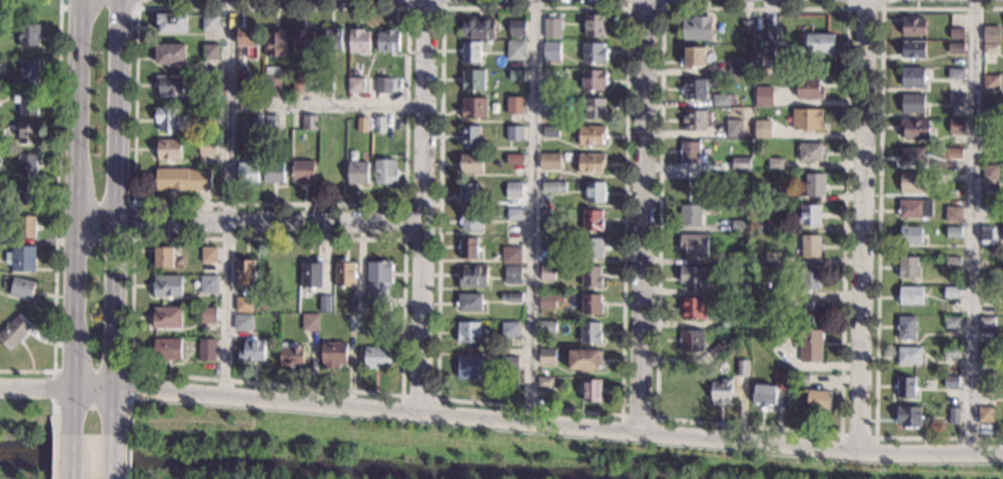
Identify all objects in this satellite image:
road: (101, 8)
road: (425, 8)
road: (643, 8)
road: (864, 10)
road: (626, 18)
building: (170, 24)
building: (210, 24)
building: (594, 25)
building: (912, 27)
building: (478, 28)
building: (516, 28)
building: (696, 28)
building: (551, 29)
building: (746, 30)
building: (957, 34)
building: (991, 35)
building: (29, 37)
building: (769, 39)
building: (331, 41)
building: (248, 42)
building: (359, 42)
building: (388, 42)
building: (303, 43)
building: (275, 44)
building: (819, 44)
building: (955, 48)
building: (912, 50)
building: (990, 50)
building: (515, 51)
building: (470, 52)
building: (550, 52)
building: (210, 53)
building: (593, 53)
building: (170, 55)
building: (693, 57)
building: (737, 69)
building: (955, 74)
building: (30, 75)
building: (516, 75)
building: (911, 78)
building: (271, 80)
building: (472, 81)
building: (593, 81)
building: (990, 84)
building: (301, 85)
building: (326, 85)
building: (170, 86)
building: (211, 86)
building: (355, 86)
building: (382, 86)
building: (244, 90)
building: (694, 90)
building: (809, 90)
building: (763, 97)
building: (955, 99)
building: (721, 101)
building: (912, 104)
building: (27, 105)
road: (326, 106)
building: (515, 106)
building: (551, 106)
building: (474, 108)
building: (593, 108)
building: (992, 111)
building: (211, 117)
building: (166, 119)
building: (694, 120)
building: (807, 120)
building: (255, 123)
building: (308, 123)
building: (270, 124)
building: (362, 126)
building: (380, 126)
building: (956, 127)
building: (734, 129)
building: (762, 129)
building: (914, 129)
building: (550, 133)
building: (515, 134)
building: (29, 136)
building: (590, 136)
building: (471, 138)
building: (207, 148)
building: (168, 150)
building: (689, 153)
building: (810, 153)
building: (911, 156)
building: (952, 157)
building: (514, 160)
building: (0, 161)
building: (549, 162)
building: (740, 163)
building: (775, 163)
building: (471, 164)
building: (590, 165)
building: (29, 167)
building: (273, 172)
building: (302, 172)
building: (357, 173)
building: (384, 173)
building: (991, 173)
building: (247, 174)
building: (181, 180)
building: (911, 183)
building: (695, 185)
building: (814, 185)
building: (553, 188)
building: (514, 191)
building: (468, 193)
building: (594, 193)
building: (774, 193)
building: (953, 194)
building: (28, 197)
building: (737, 197)
road: (229, 199)
building: (990, 201)
road: (110, 203)
road: (405, 204)
road: (421, 205)
building: (914, 210)
road: (55, 211)
road: (531, 211)
building: (514, 215)
building: (547, 215)
building: (953, 215)
building: (810, 216)
road: (77, 217)
road: (119, 217)
road: (646, 217)
building: (690, 217)
road: (249, 219)
building: (470, 220)
building: (591, 220)
road: (404, 223)
road: (864, 225)
building: (739, 226)
road: (971, 226)
building: (762, 227)
road: (878, 227)
building: (25, 228)
building: (953, 233)
building: (988, 235)
building: (910, 236)
building: (546, 244)
building: (693, 246)
building: (810, 247)
building: (467, 248)
building: (591, 249)
building: (511, 255)
building: (209, 256)
building: (164, 258)
building: (738, 258)
building: (771, 258)
building: (23, 261)
building: (953, 262)
building: (987, 266)
building: (908, 268)
building: (244, 273)
building: (344, 274)
building: (547, 274)
building: (311, 275)
building: (512, 275)
building: (473, 276)
building: (591, 277)
building: (692, 277)
building: (810, 278)
building: (985, 281)
building: (378, 284)
building: (167, 286)
building: (209, 286)
building: (737, 289)
building: (23, 290)
building: (784, 291)
building: (952, 292)
building: (909, 295)
building: (511, 298)
building: (550, 301)
building: (469, 303)
building: (324, 304)
building: (244, 305)
building: (357, 305)
building: (769, 305)
building: (591, 306)
building: (692, 309)
building: (813, 313)
building: (208, 316)
building: (167, 318)
building: (730, 321)
building: (243, 322)
building: (353, 322)
building: (952, 322)
building: (986, 322)
building: (310, 323)
building: (546, 327)
building: (906, 329)
building: (510, 330)
building: (468, 333)
building: (589, 333)
building: (15, 335)
building: (382, 336)
building: (691, 341)
building: (770, 342)
building: (810, 346)
building: (167, 350)
building: (207, 351)
building: (251, 351)
building: (718, 351)
building: (951, 353)
building: (291, 355)
building: (333, 355)
building: (987, 355)
building: (908, 356)
building: (547, 357)
building: (376, 358)
building: (584, 359)
building: (509, 363)
building: (469, 368)
building: (742, 368)
road: (140, 373)
building: (801, 379)
building: (780, 381)
building: (545, 382)
building: (951, 382)
building: (986, 385)
road: (34, 387)
road: (82, 388)
building: (905, 388)
road: (104, 390)
building: (592, 391)
building: (721, 392)
road: (419, 396)
building: (764, 397)
road: (124, 398)
building: (817, 399)
road: (128, 415)
building: (985, 415)
road: (639, 417)
building: (909, 417)
building: (954, 417)
road: (53, 418)
road: (558, 426)
road: (840, 427)
road: (857, 436)
park: (29, 438)
road: (68, 446)
park: (453, 450)
road: (54, 455)
road: (112, 456)
road: (126, 456)
road: (67, 466)
river: (294, 467)
road: (66, 477)
road: (53, 478)
road: (112, 478)

